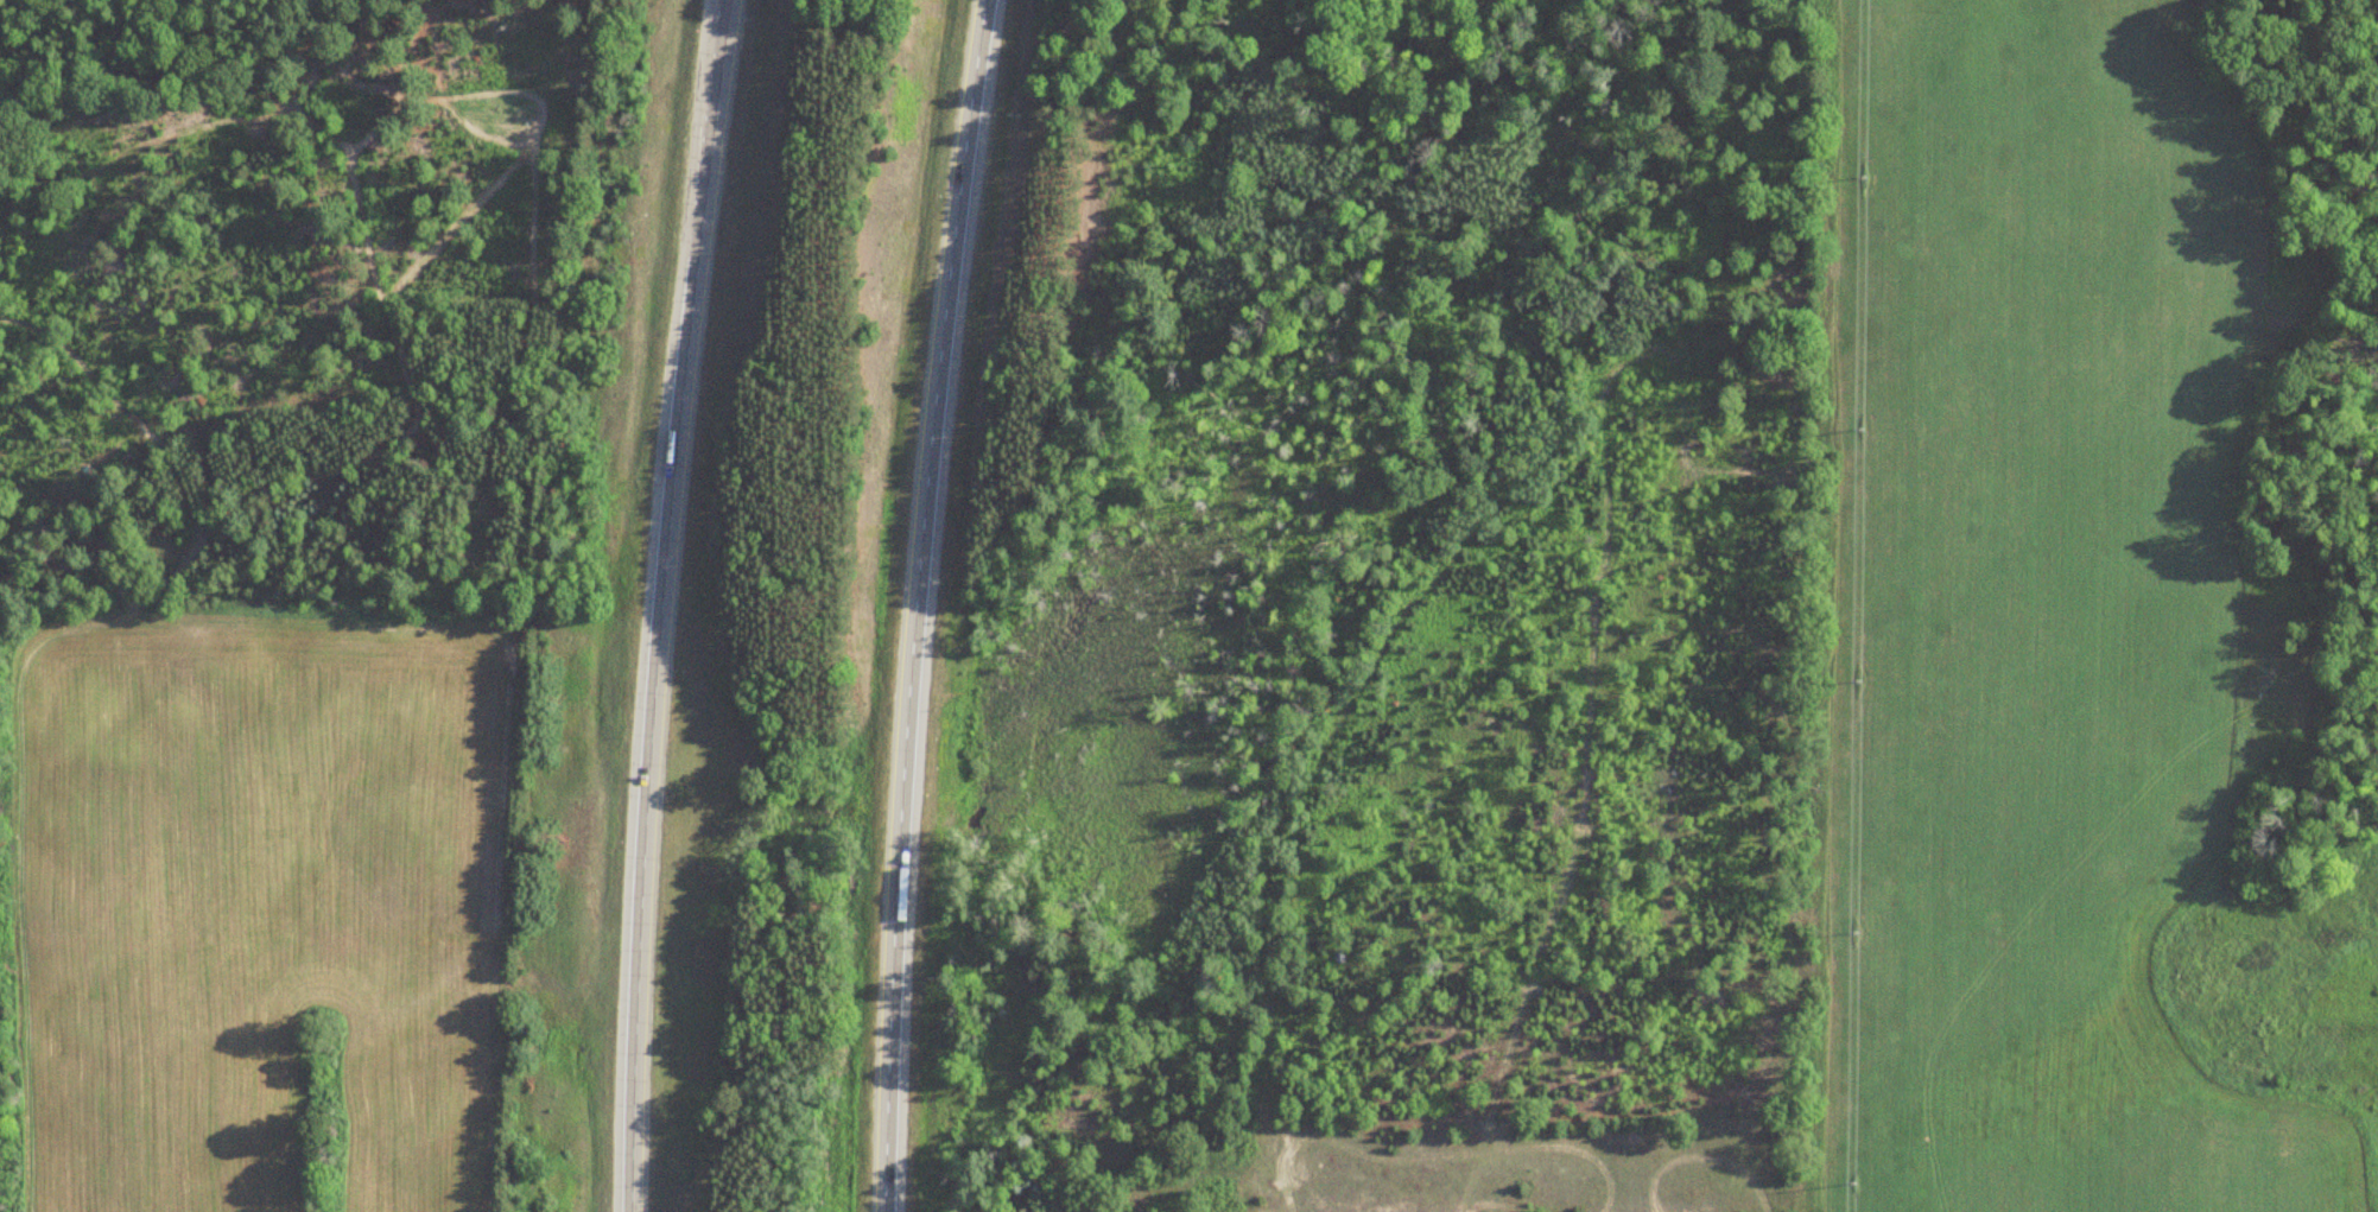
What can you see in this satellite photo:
road: (664, 604)
road: (912, 604)
crop: (256, 908)

